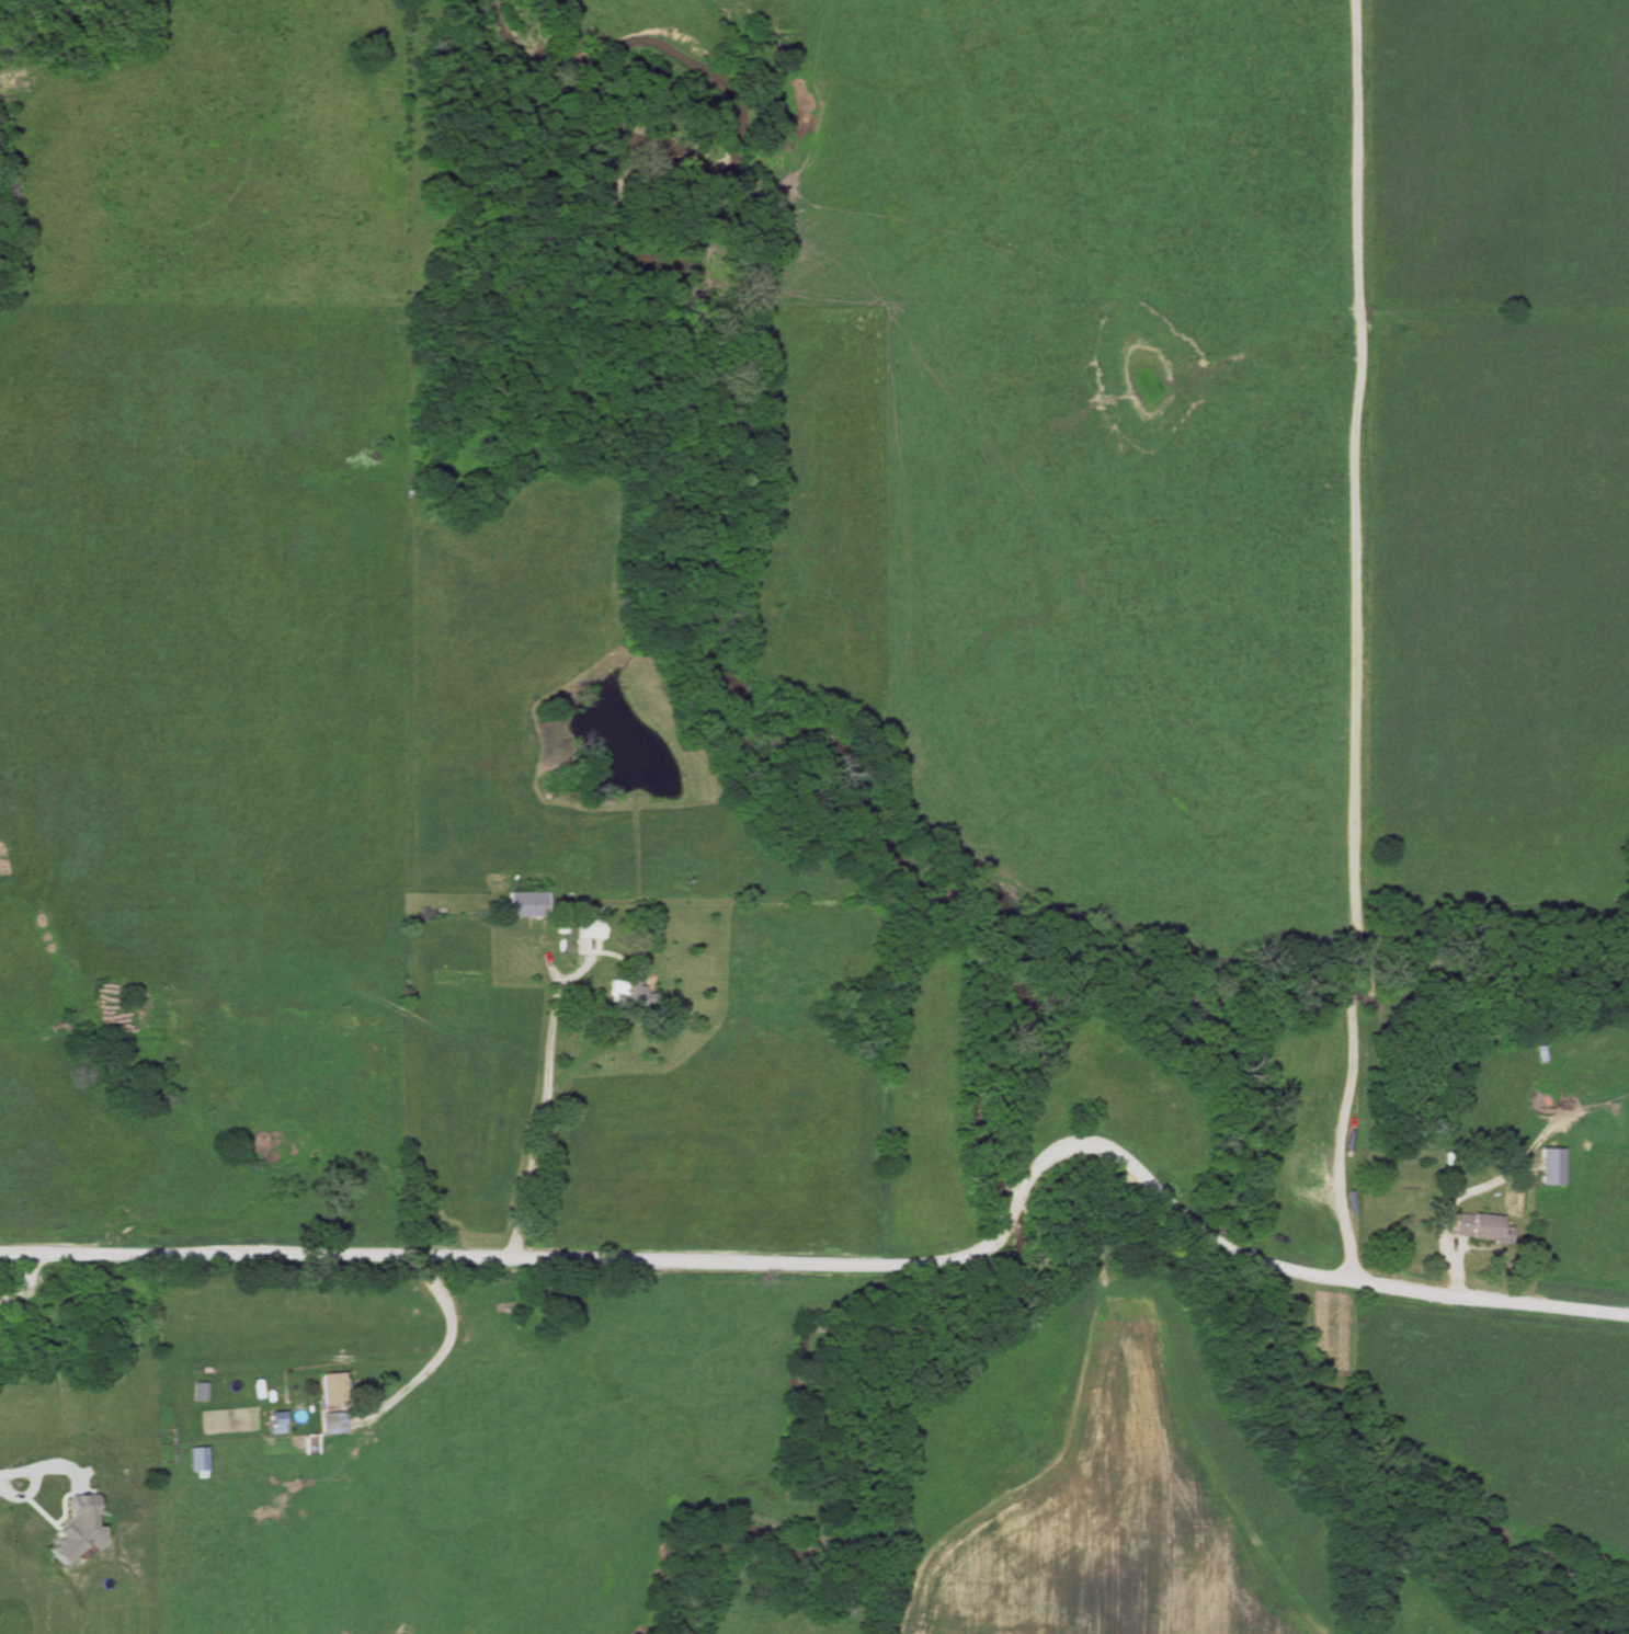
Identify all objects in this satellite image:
road: (1354, 642)
building: (526, 905)
building: (591, 929)
building: (625, 992)
road: (544, 1105)
building: (1550, 1166)
building: (1480, 1227)
road: (861, 1268)
road: (23, 1286)
road: (436, 1352)
building: (333, 1389)
building: (201, 1392)
building: (335, 1424)
building: (200, 1463)
road: (9, 1482)

